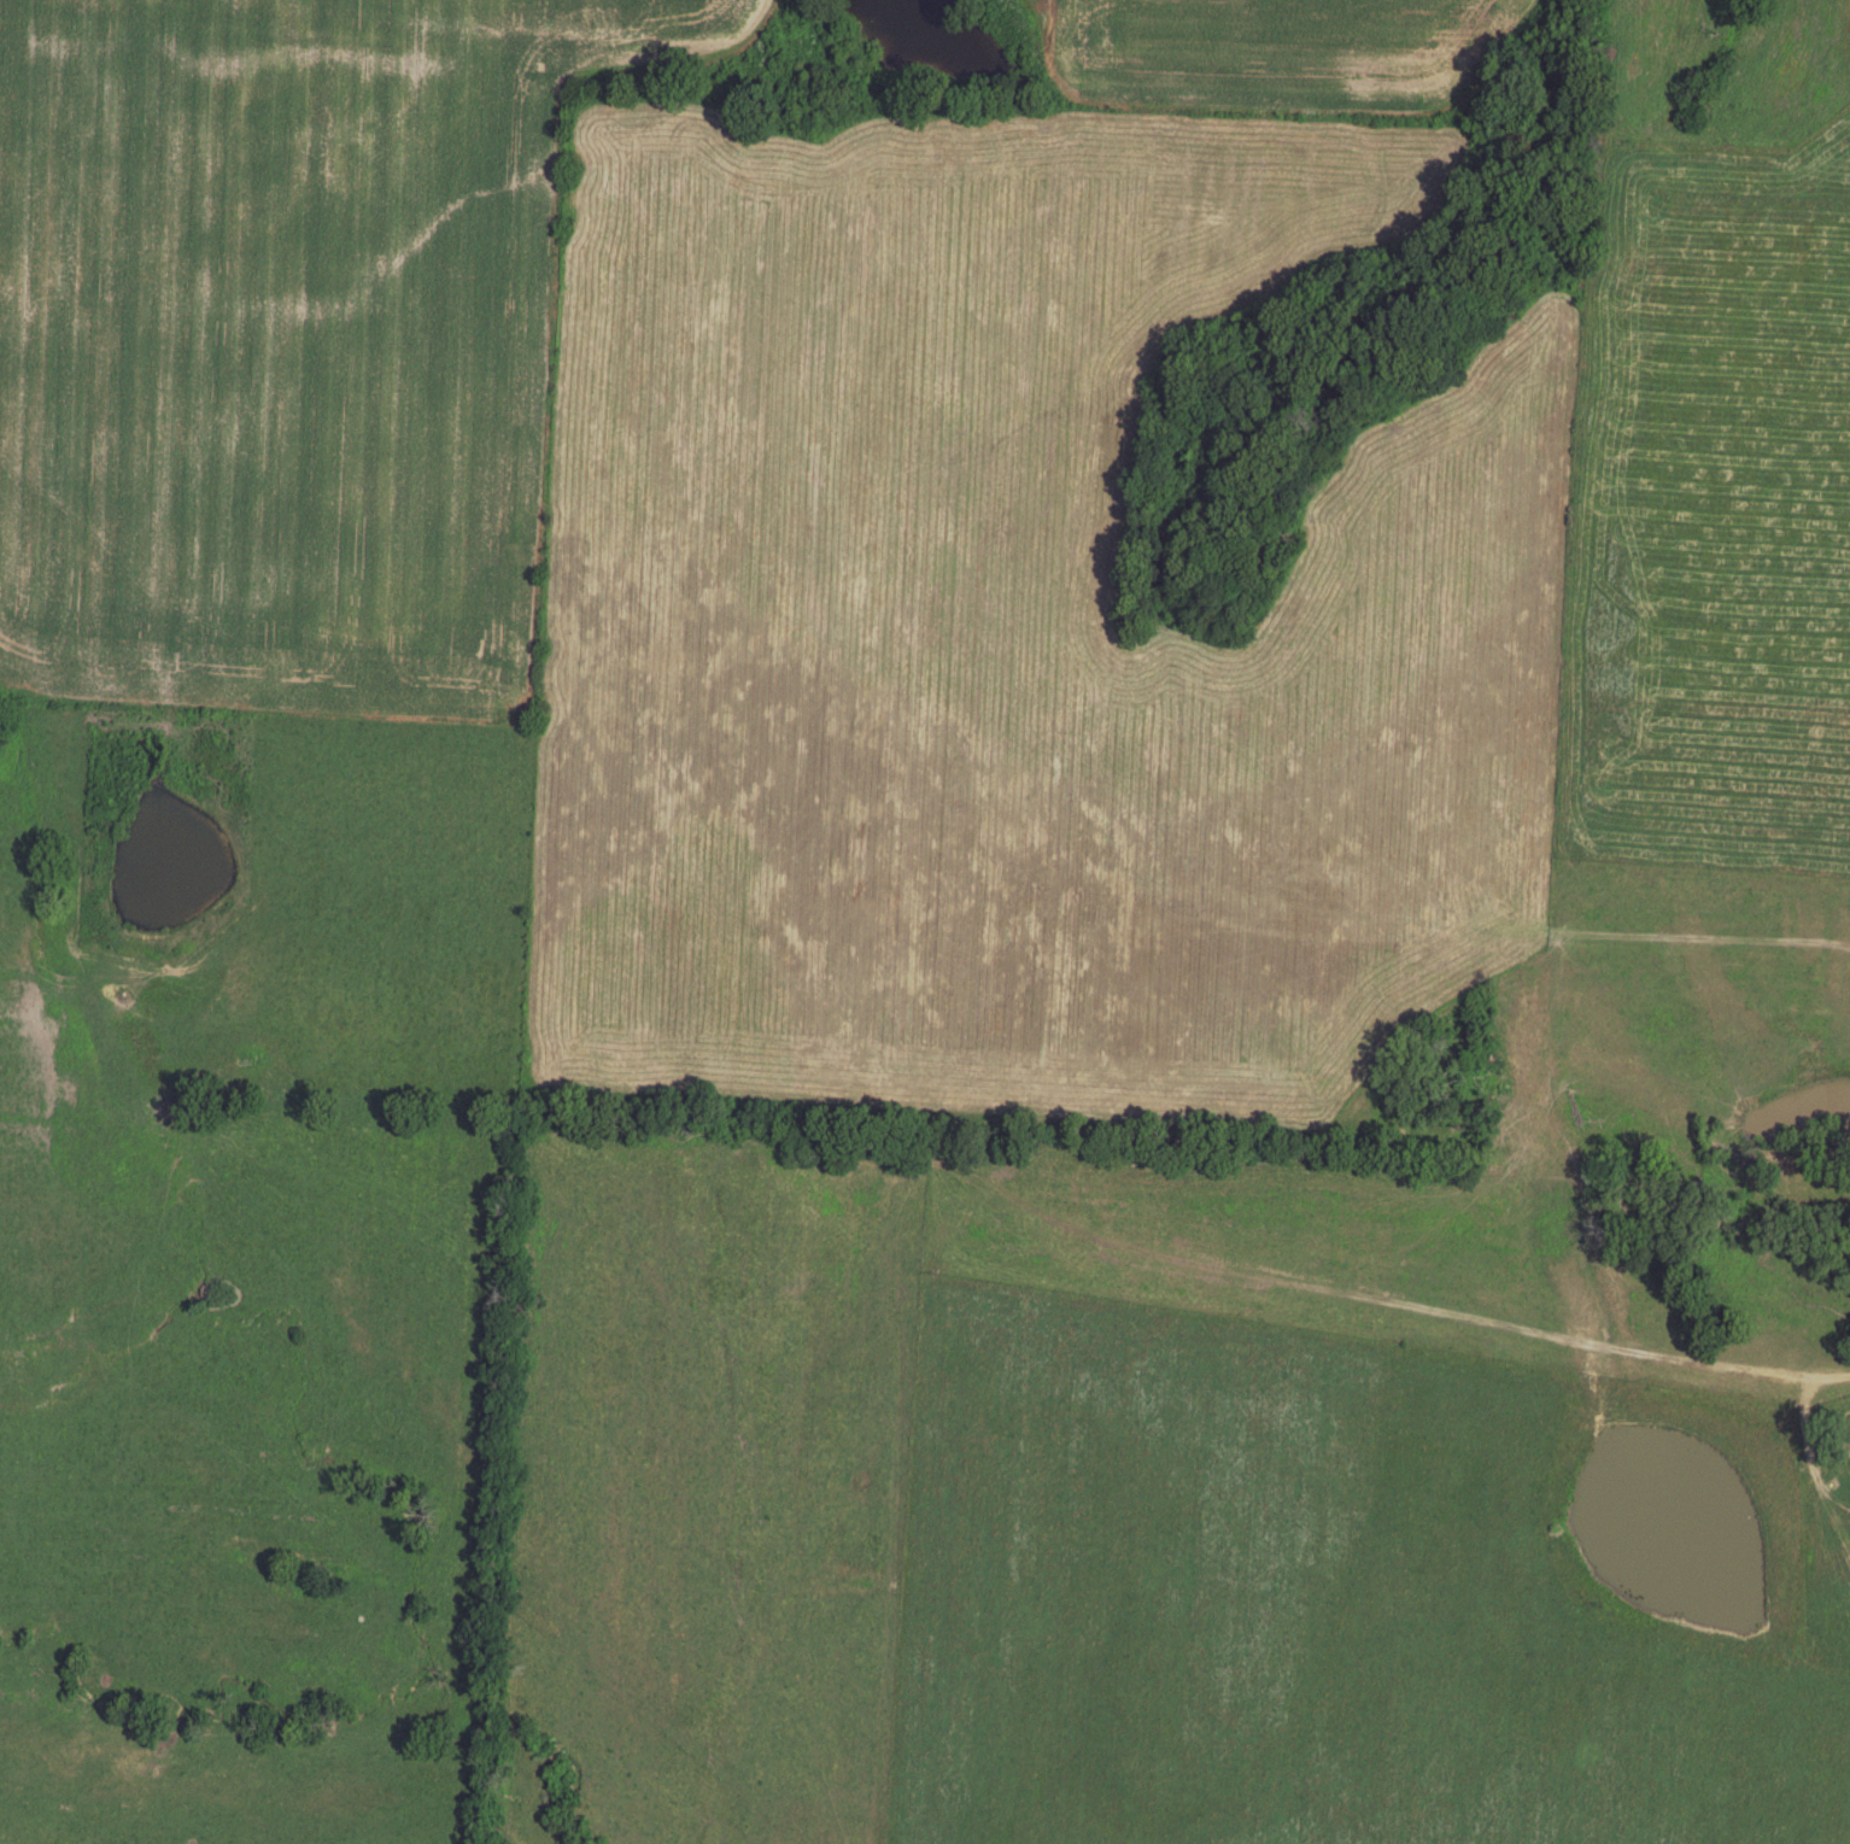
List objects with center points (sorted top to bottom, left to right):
road: (1697, 939)
road: (1041, 1204)

